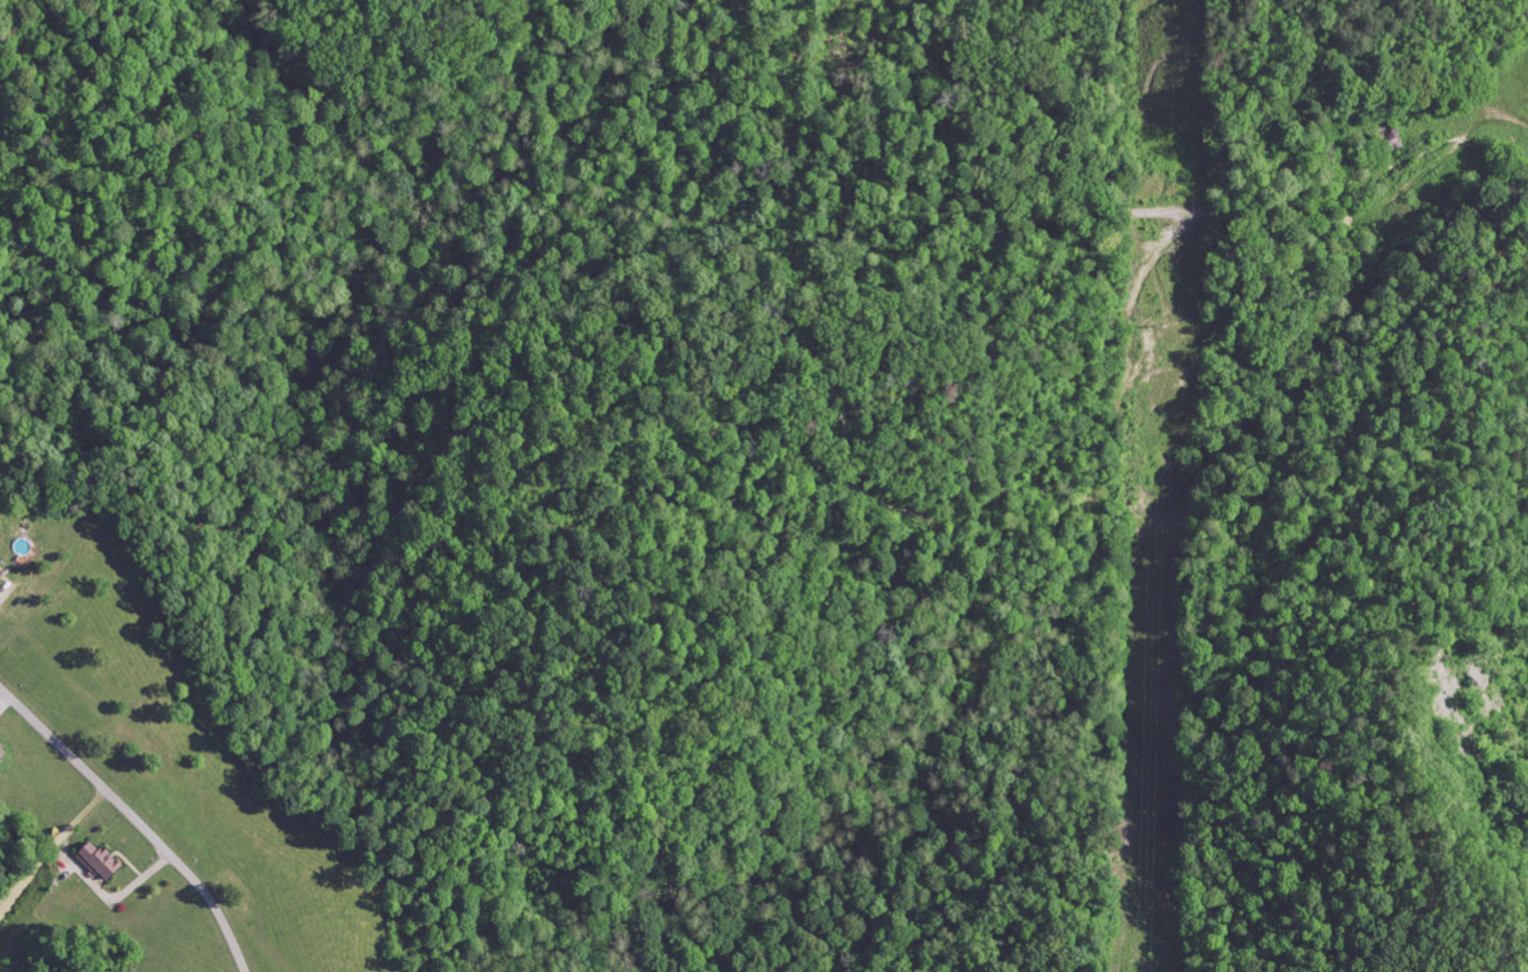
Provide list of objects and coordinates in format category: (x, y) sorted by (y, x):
road: (580, 227)
building: (0, 572)
road: (86, 666)
building: (1, 752)
building: (95, 860)

